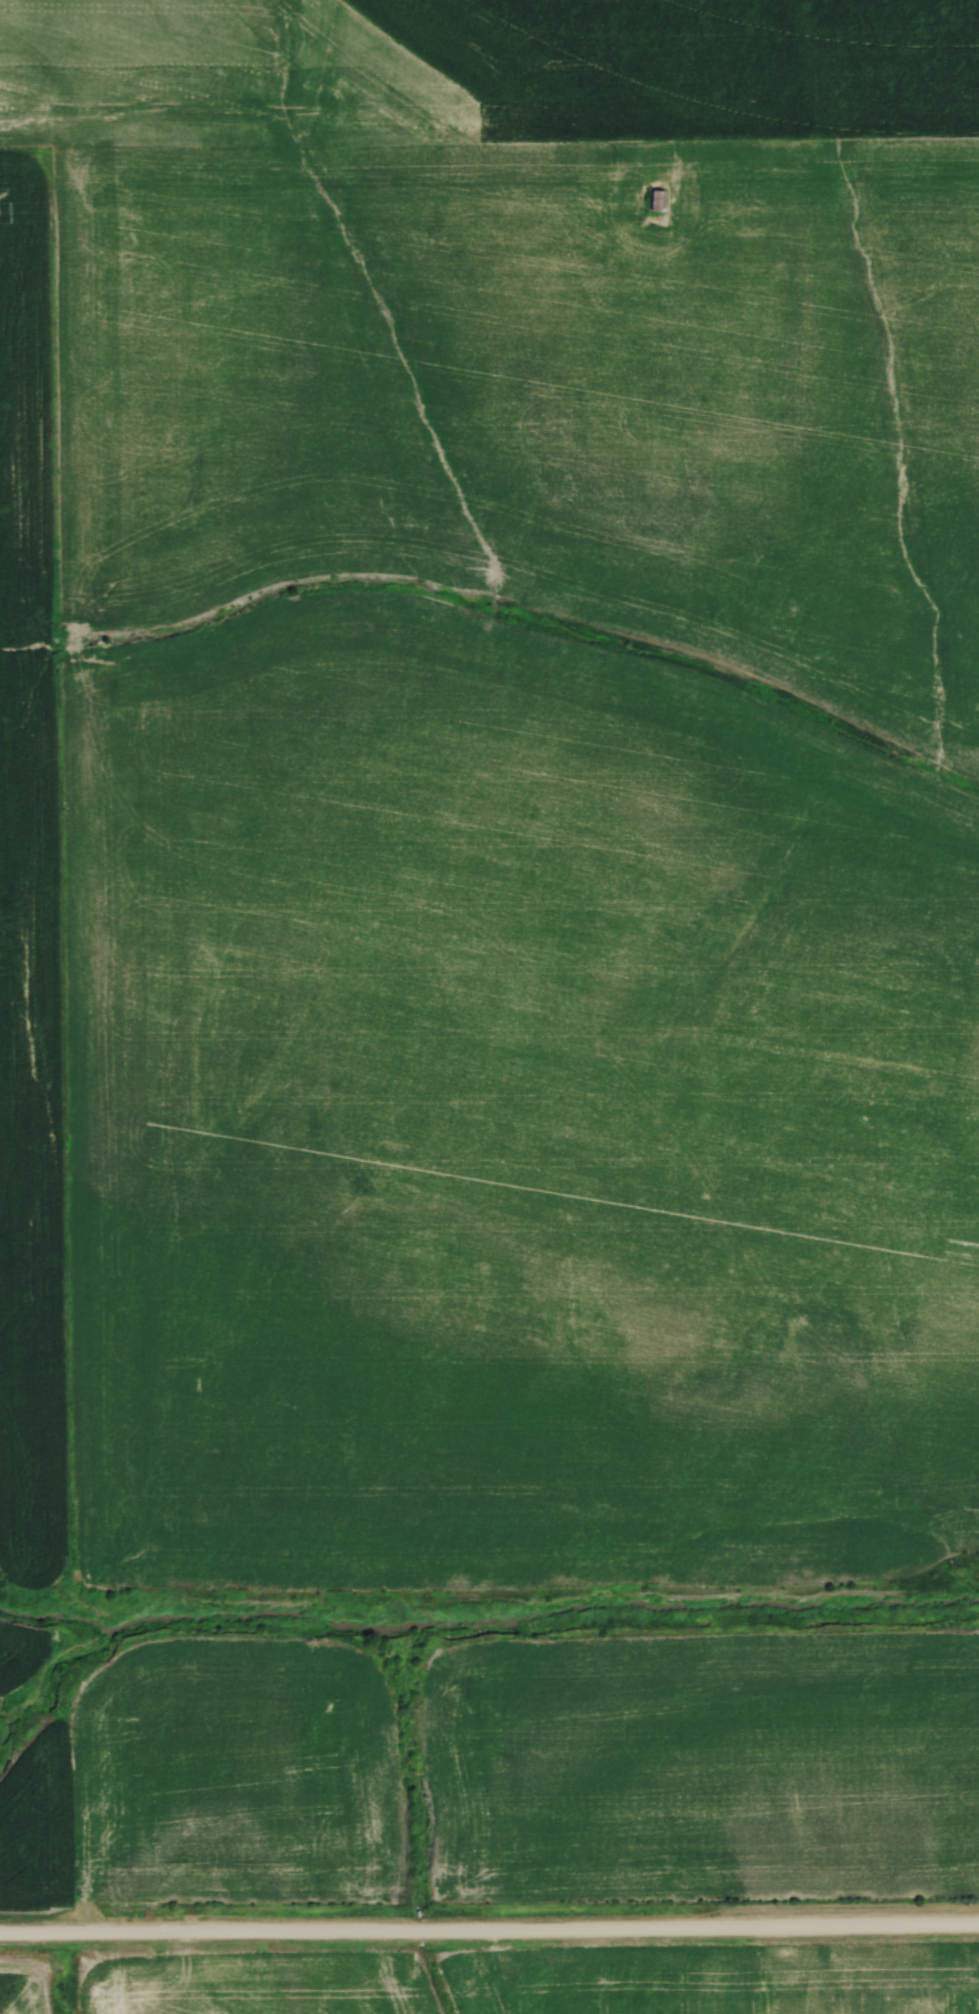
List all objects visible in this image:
building: (654, 199)
power tower: (644, 201)
river: (485, 1627)
road: (489, 1935)

